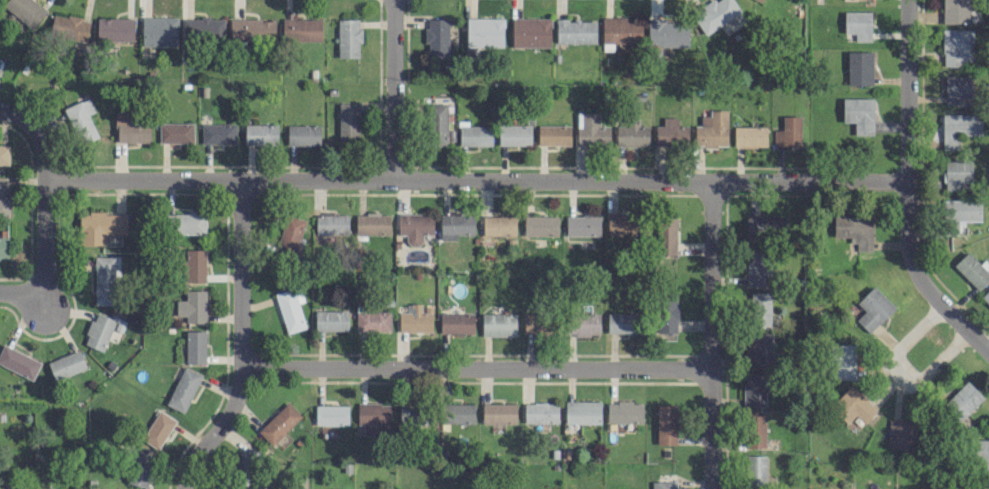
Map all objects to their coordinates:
building: (761, 0)
building: (25, 10)
building: (955, 11)
building: (718, 16)
building: (858, 24)
building: (69, 27)
building: (115, 29)
building: (252, 29)
building: (301, 29)
building: (202, 30)
building: (159, 31)
building: (484, 31)
building: (575, 31)
building: (620, 31)
building: (530, 32)
building: (666, 34)
building: (348, 37)
building: (436, 37)
building: (956, 46)
building: (859, 67)
road: (393, 89)
building: (958, 89)
building: (859, 114)
building: (81, 120)
building: (348, 121)
building: (437, 124)
building: (132, 127)
building: (958, 128)
building: (591, 129)
building: (712, 129)
building: (788, 131)
building: (175, 132)
building: (671, 132)
building: (218, 133)
building: (260, 134)
building: (303, 134)
building: (514, 134)
building: (553, 134)
building: (632, 134)
building: (475, 135)
building: (749, 136)
building: (4, 154)
building: (956, 173)
road: (428, 179)
road: (905, 190)
building: (4, 198)
building: (958, 214)
building: (186, 223)
building: (331, 224)
building: (372, 224)
building: (622, 224)
building: (764, 224)
building: (101, 225)
building: (456, 225)
building: (498, 225)
building: (540, 225)
building: (584, 225)
building: (414, 226)
building: (853, 228)
building: (291, 232)
building: (666, 235)
road: (42, 243)
building: (4, 247)
building: (195, 265)
building: (756, 267)
building: (973, 269)
building: (104, 280)
road: (8, 290)
building: (986, 295)
building: (192, 306)
building: (760, 308)
building: (873, 308)
building: (289, 310)
building: (666, 315)
building: (414, 319)
building: (331, 320)
building: (372, 320)
building: (621, 321)
building: (535, 322)
building: (456, 323)
road: (52, 324)
building: (498, 324)
building: (583, 324)
building: (98, 331)
road: (709, 334)
road: (239, 342)
building: (195, 346)
building: (759, 349)
building: (18, 361)
building: (842, 361)
building: (66, 364)
road: (474, 368)
road: (898, 373)
building: (183, 389)
building: (754, 389)
building: (963, 400)
building: (853, 405)
building: (624, 411)
building: (499, 412)
building: (540, 412)
building: (582, 412)
building: (458, 413)
building: (331, 414)
building: (414, 415)
building: (374, 417)
building: (279, 423)
building: (666, 423)
building: (158, 429)
building: (755, 430)
building: (902, 433)
building: (982, 451)
building: (247, 460)
building: (139, 468)
building: (755, 470)
building: (664, 484)
building: (343, 488)

